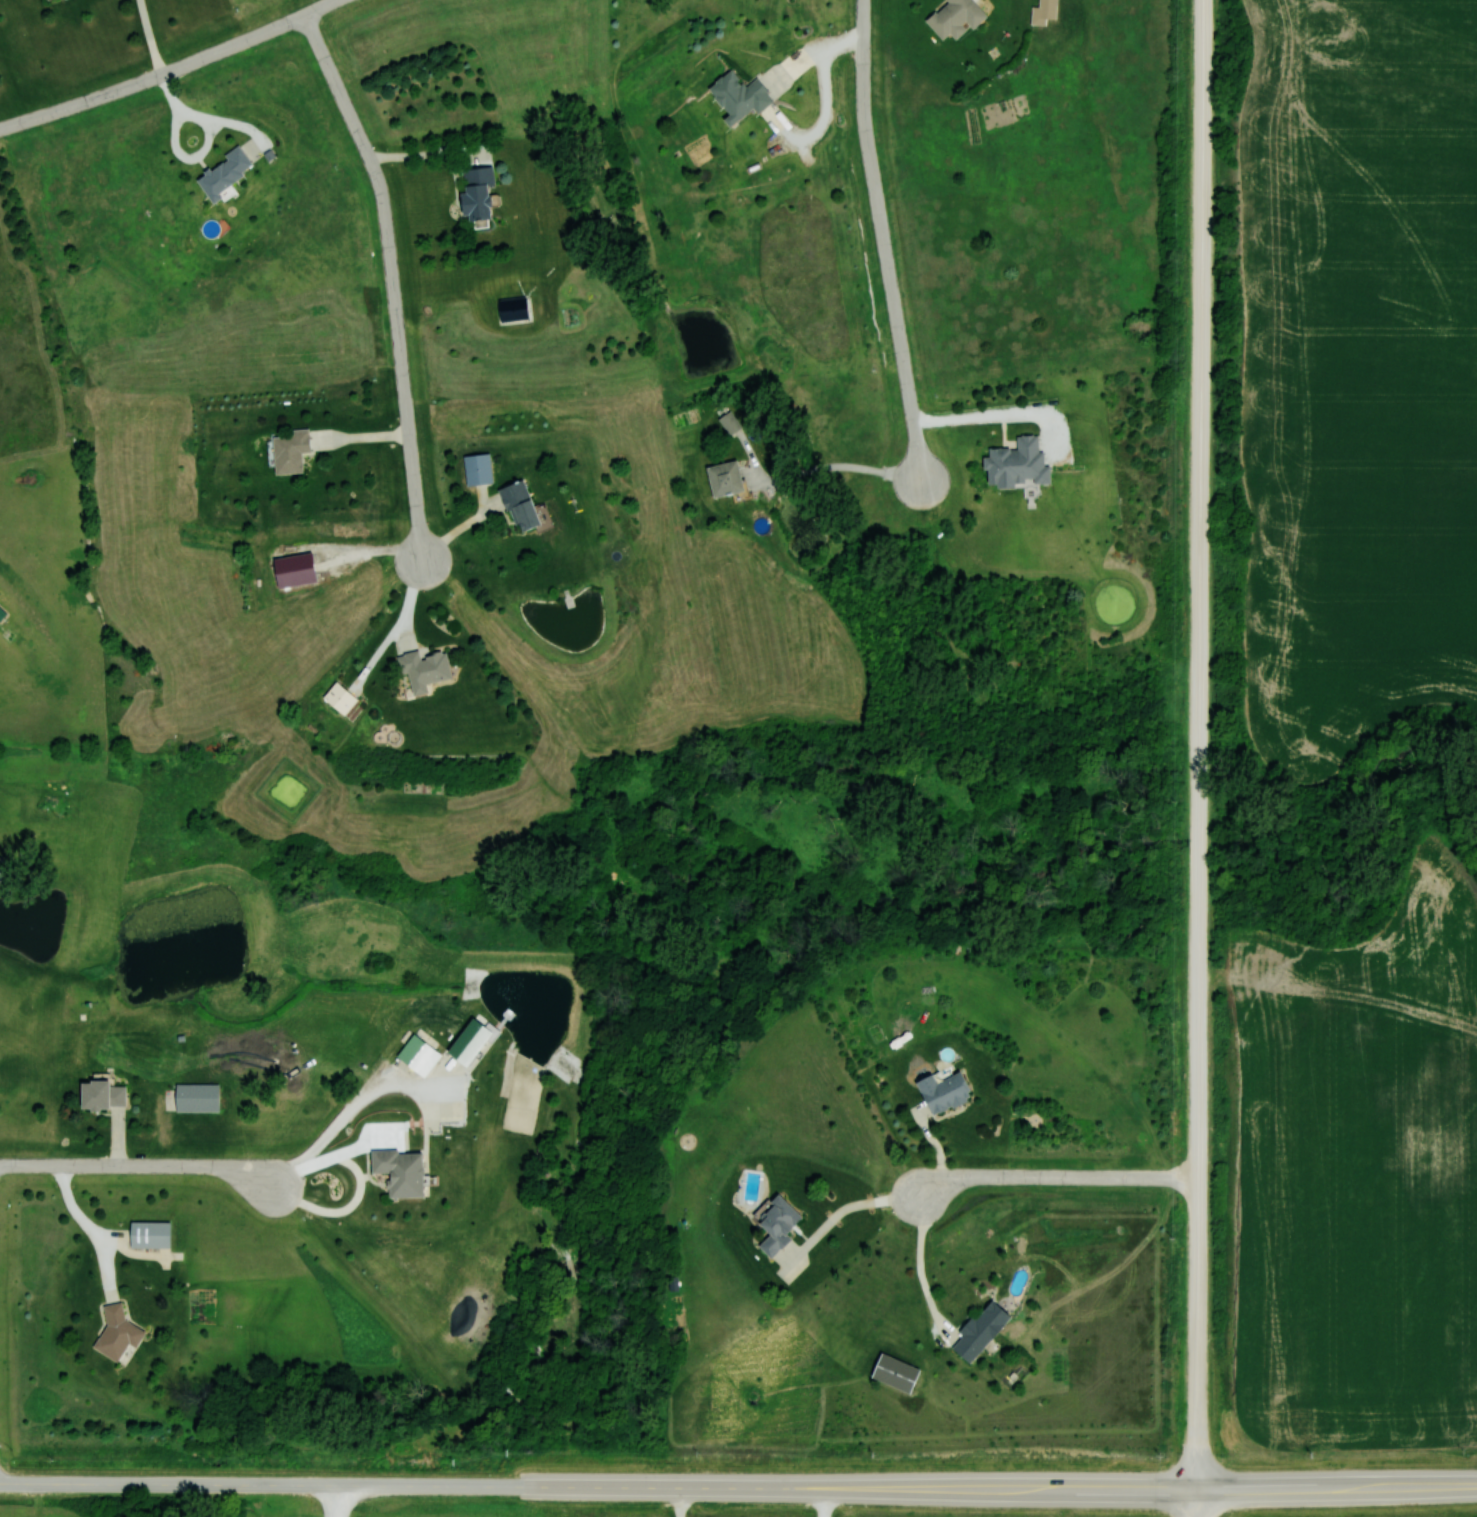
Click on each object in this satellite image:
building: (950, 17)
road: (151, 38)
road: (175, 72)
building: (735, 96)
road: (828, 103)
road: (209, 141)
road: (431, 155)
building: (220, 172)
building: (471, 193)
road: (886, 242)
road: (395, 281)
building: (728, 422)
building: (287, 450)
building: (1014, 464)
road: (839, 467)
building: (475, 468)
building: (721, 478)
building: (515, 504)
road: (379, 547)
building: (289, 569)
building: (420, 669)
road: (1200, 745)
building: (412, 1053)
building: (939, 1092)
building: (98, 1096)
road: (335, 1105)
road: (140, 1166)
building: (395, 1172)
road: (1056, 1180)
road: (361, 1185)
road: (837, 1200)
building: (773, 1225)
road: (93, 1229)
building: (147, 1235)
road: (905, 1263)
building: (113, 1331)
building: (974, 1334)
road: (69, 1482)
road: (668, 1483)
road: (1337, 1488)
road: (336, 1500)
road: (666, 1500)
road: (810, 1500)
road: (1197, 1504)

